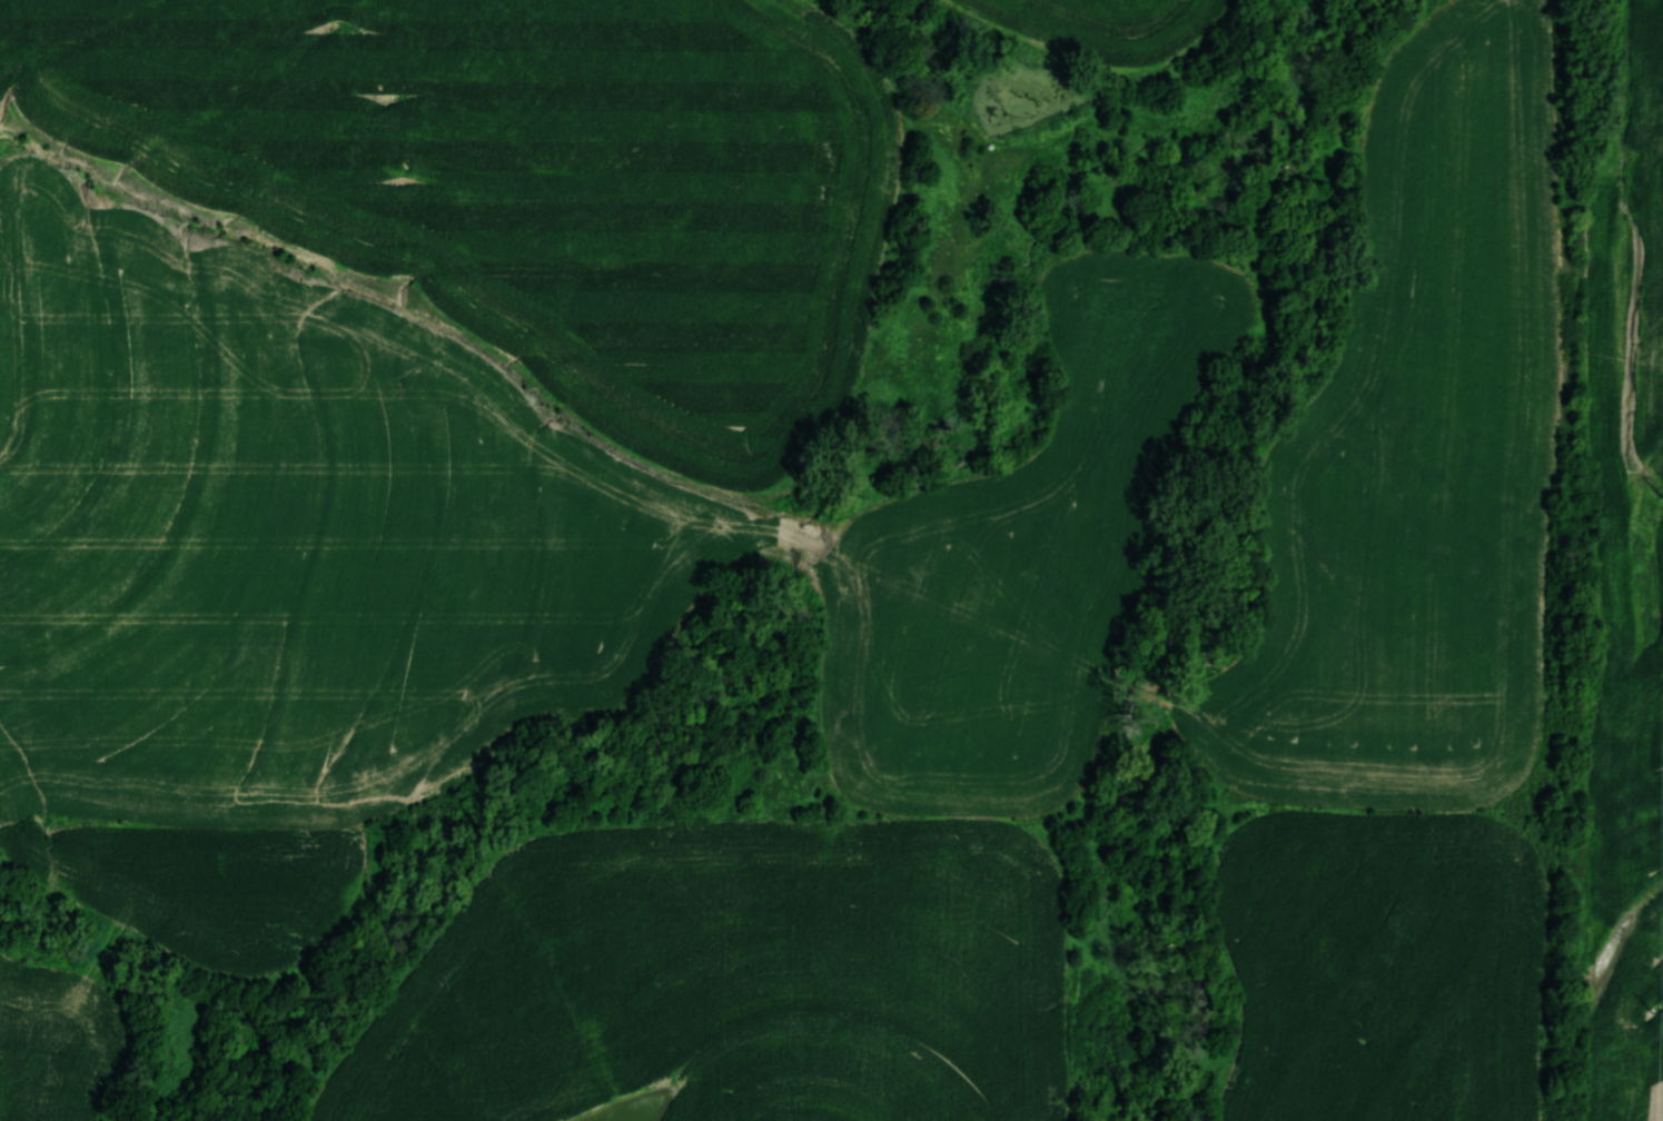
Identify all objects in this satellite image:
power tower: (1661, 518)
power tower: (1652, 1008)

